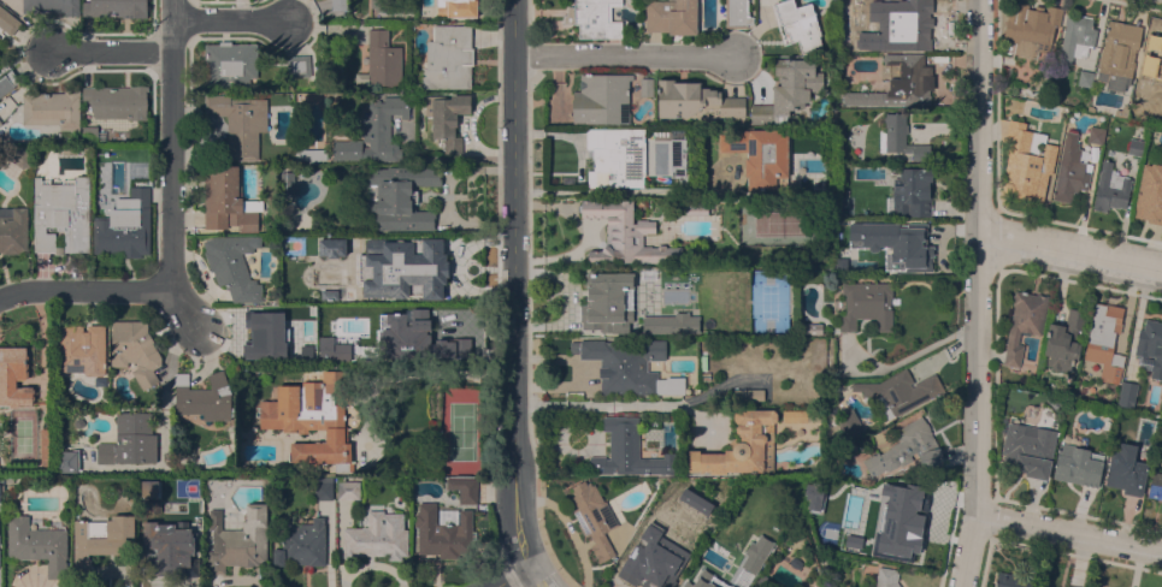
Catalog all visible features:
road: (1139, 4)
building: (340, 5)
building: (384, 5)
building: (52, 6)
building: (116, 7)
building: (458, 8)
building: (738, 13)
building: (672, 16)
building: (596, 18)
building: (8, 20)
road: (228, 20)
building: (798, 23)
building: (902, 25)
building: (1031, 28)
building: (1077, 37)
road: (108, 49)
road: (623, 53)
building: (1119, 53)
building: (449, 58)
building: (382, 60)
building: (1151, 60)
building: (230, 65)
building: (299, 65)
building: (6, 78)
building: (1085, 78)
building: (896, 84)
building: (647, 87)
building: (1005, 88)
building: (789, 90)
building: (695, 99)
building: (602, 100)
building: (117, 101)
building: (1091, 107)
building: (53, 108)
building: (1122, 111)
building: (448, 118)
building: (0, 123)
building: (240, 123)
building: (376, 132)
building: (89, 134)
building: (1096, 134)
building: (901, 137)
road: (171, 144)
building: (1136, 147)
building: (71, 150)
building: (308, 153)
building: (20, 155)
building: (761, 155)
building: (617, 156)
building: (678, 158)
building: (1027, 162)
building: (1072, 167)
building: (285, 183)
road: (996, 186)
building: (100, 188)
building: (1110, 188)
road: (596, 191)
building: (913, 191)
building: (1150, 194)
building: (401, 197)
building: (228, 201)
building: (696, 209)
building: (61, 215)
building: (125, 227)
building: (13, 230)
building: (625, 235)
building: (895, 243)
building: (315, 248)
road: (1072, 249)
building: (406, 256)
building: (851, 262)
building: (874, 262)
building: (234, 265)
road: (514, 284)
road: (110, 290)
building: (287, 290)
road: (980, 293)
building: (608, 303)
building: (867, 304)
building: (308, 320)
building: (671, 324)
building: (1025, 324)
building: (409, 326)
building: (813, 328)
building: (264, 336)
building: (1063, 340)
building: (1105, 340)
building: (344, 342)
building: (464, 345)
building: (1150, 346)
building: (82, 349)
building: (135, 350)
building: (629, 366)
road: (167, 375)
building: (13, 376)
building: (704, 376)
building: (898, 392)
building: (574, 395)
building: (1127, 395)
building: (204, 397)
building: (1058, 401)
road: (609, 403)
building: (802, 415)
building: (313, 419)
building: (78, 422)
building: (849, 425)
building: (1003, 425)
building: (130, 440)
building: (742, 445)
building: (45, 446)
building: (903, 446)
building: (1030, 449)
building: (629, 450)
building: (67, 459)
building: (1078, 464)
building: (1126, 469)
building: (8, 479)
building: (1155, 485)
building: (464, 487)
building: (347, 488)
building: (324, 491)
building: (714, 516)
building: (594, 517)
building: (700, 522)
building: (443, 529)
building: (907, 529)
building: (196, 532)
road: (1067, 534)
building: (377, 536)
building: (238, 539)
building: (100, 541)
building: (37, 544)
building: (302, 544)
building: (195, 547)
building: (756, 553)
building: (164, 556)
building: (647, 564)
building: (824, 564)
road: (513, 577)
road: (538, 577)
building: (886, 577)
building: (706, 580)
building: (1013, 580)
building: (762, 581)
building: (1048, 586)

